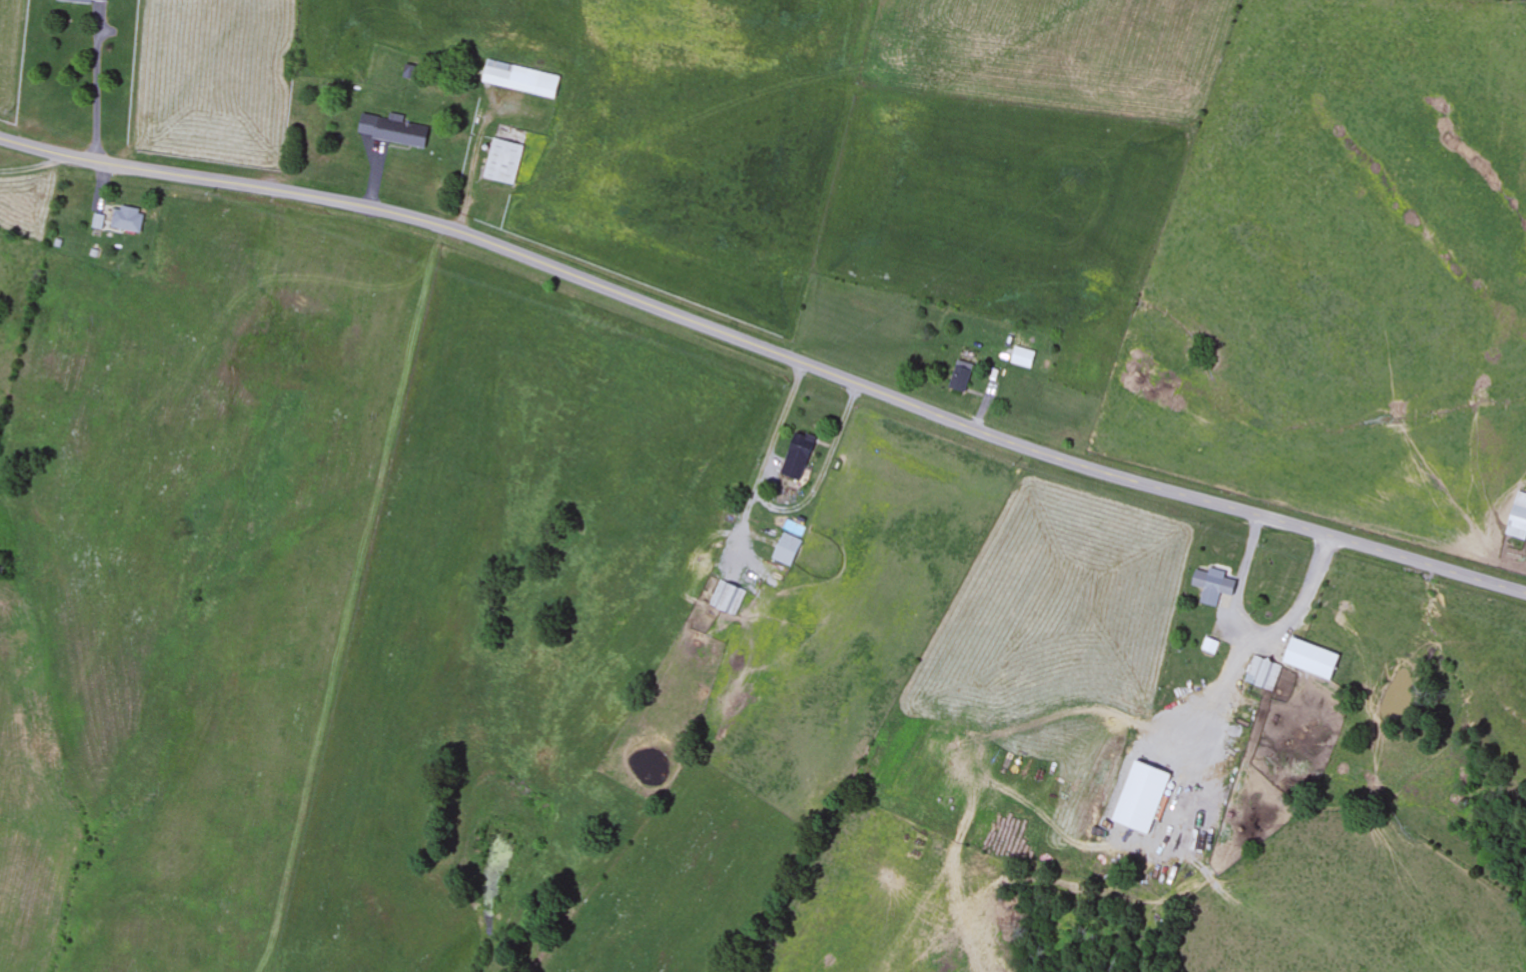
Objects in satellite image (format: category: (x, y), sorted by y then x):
building: (86, 1)
building: (523, 79)
building: (395, 131)
building: (504, 161)
building: (129, 219)
road: (766, 348)
building: (1024, 358)
building: (962, 376)
building: (799, 456)
building: (1518, 519)
building: (787, 550)
building: (1215, 588)
building: (727, 597)
building: (1215, 648)
building: (1317, 660)
building: (1265, 673)

